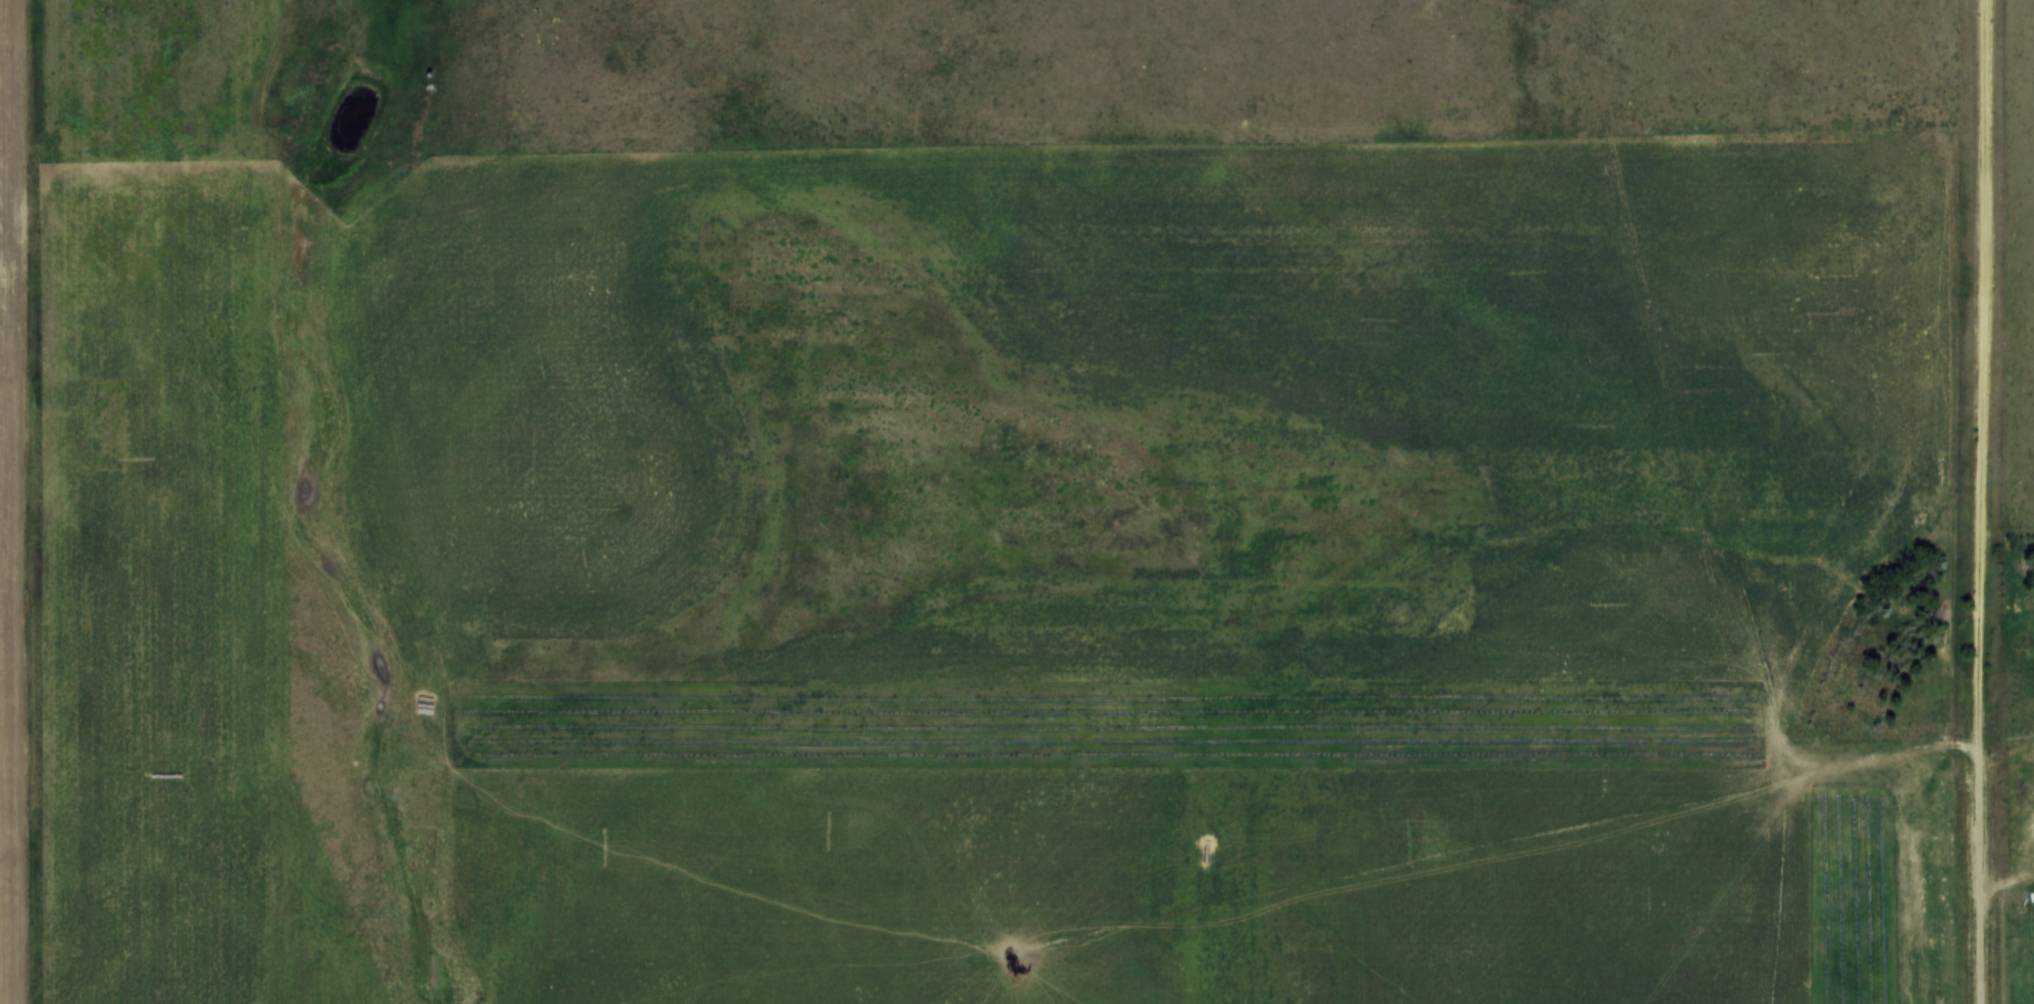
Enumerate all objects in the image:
road: (1979, 501)
road: (29, 502)

